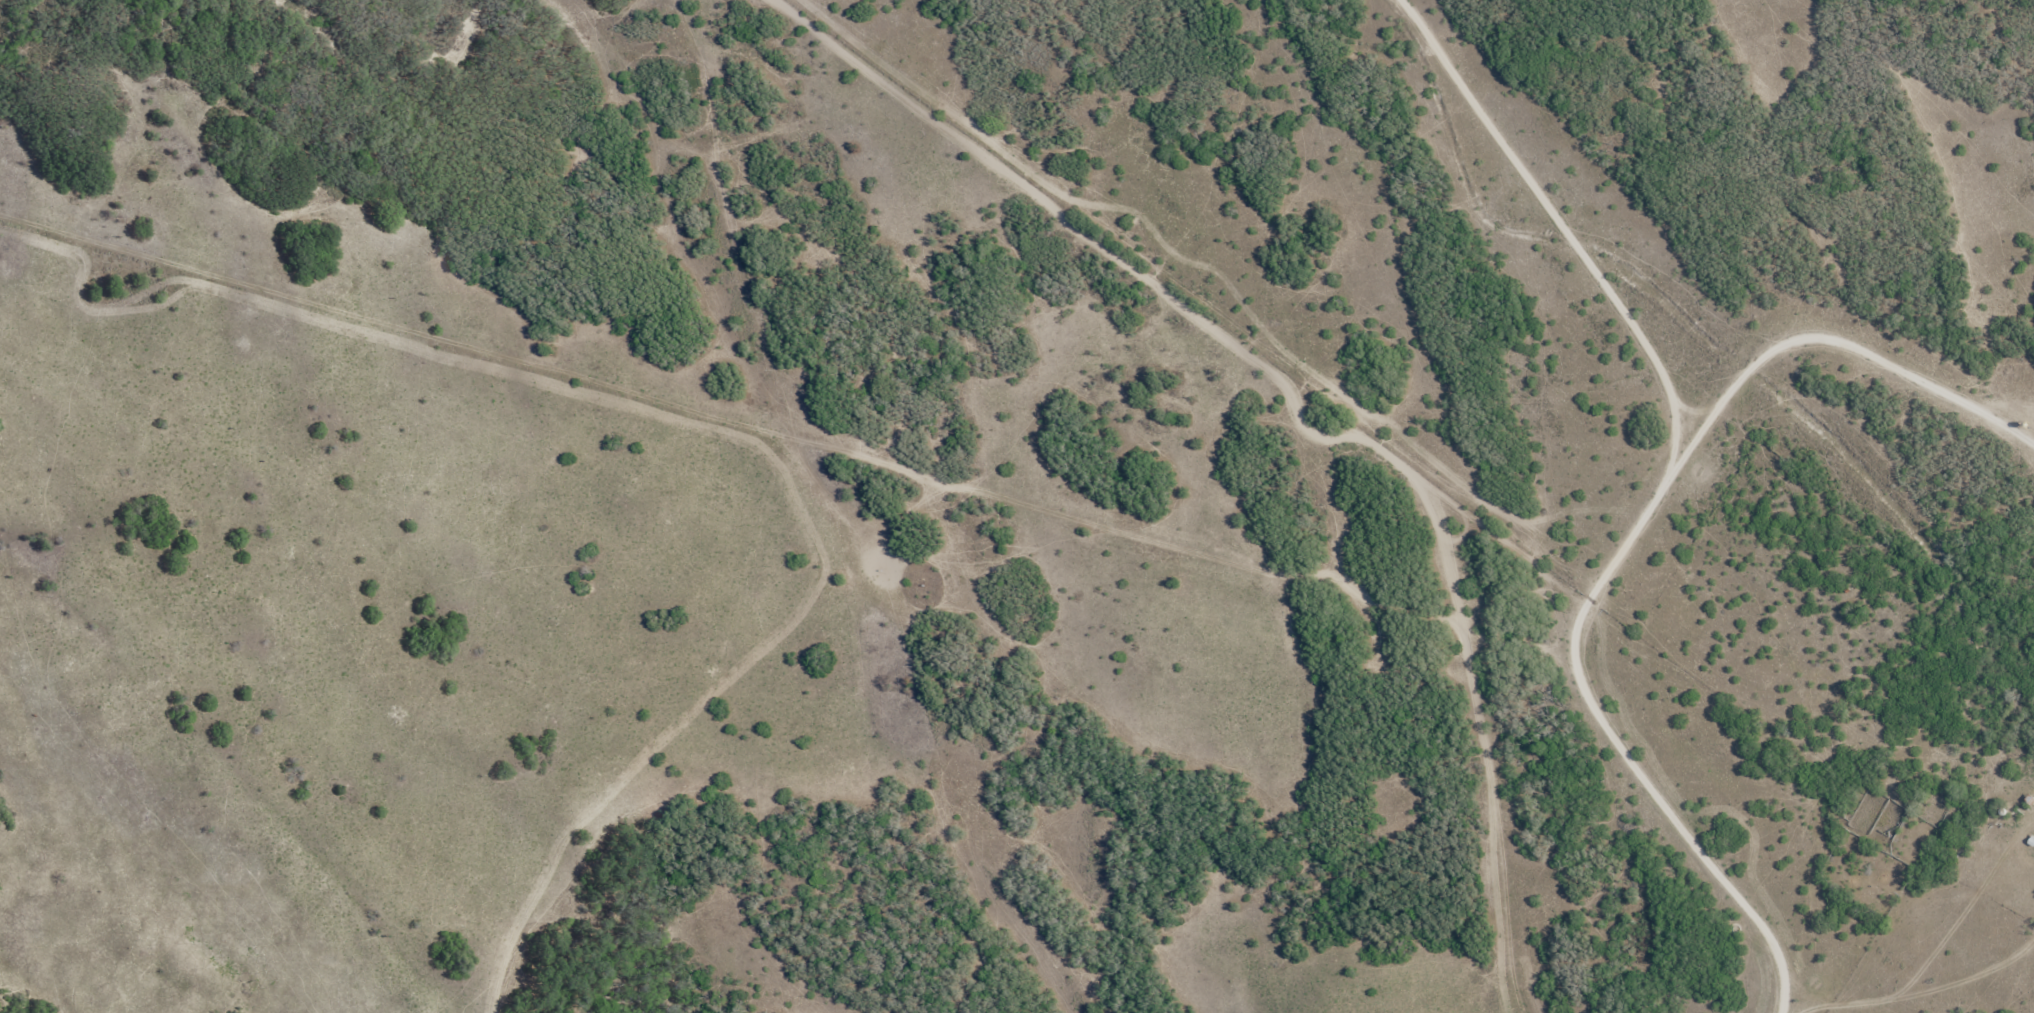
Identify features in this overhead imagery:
road: (1635, 515)
road: (2022, 990)
road: (1910, 1008)
road: (1902, 1011)

